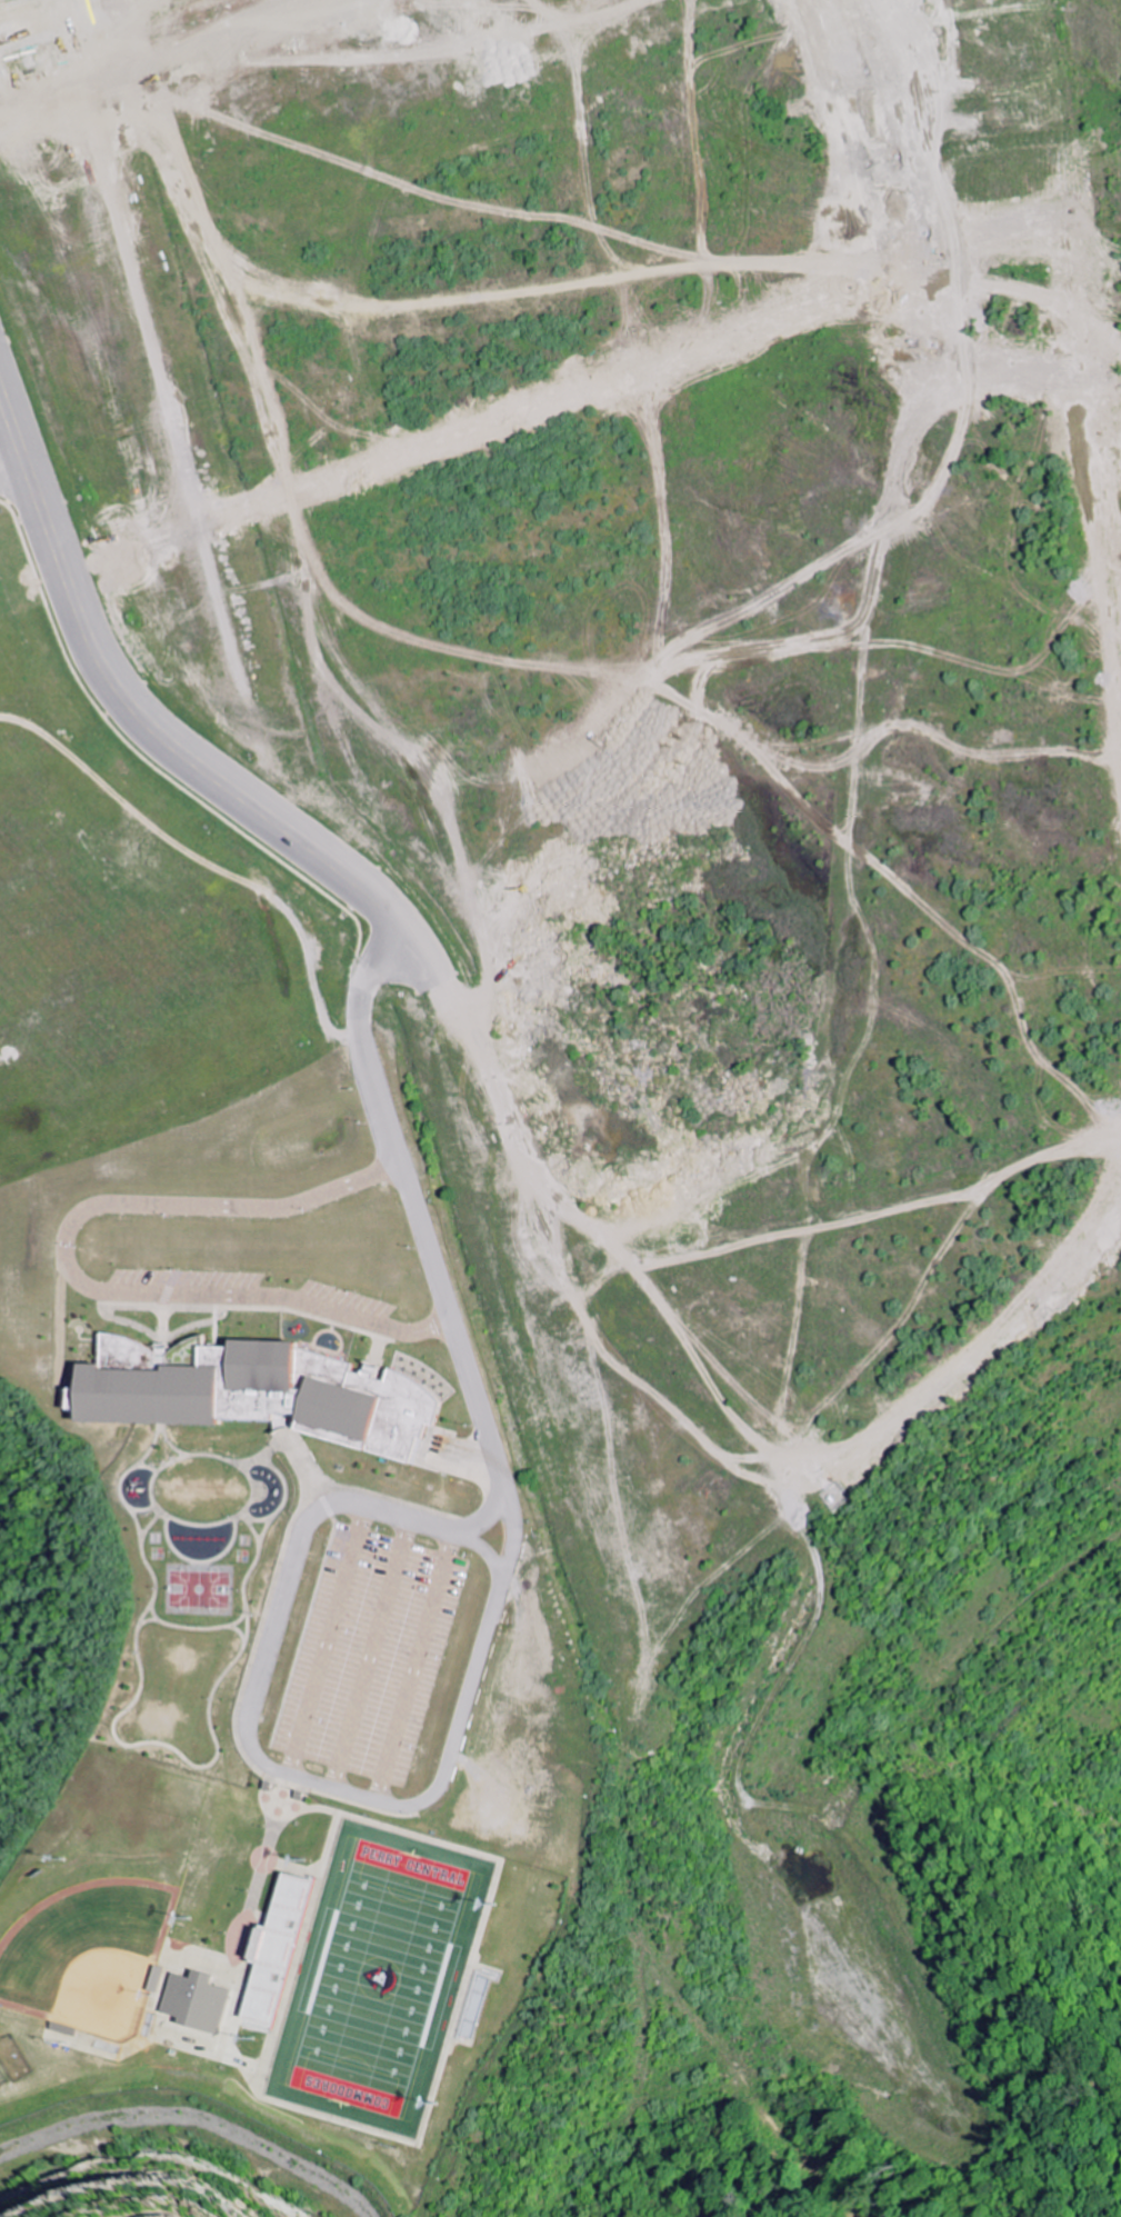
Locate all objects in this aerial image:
building: (3, 31)
road: (172, 747)
road: (412, 1206)
building: (200, 1381)
building: (379, 1407)
building: (283, 1953)
building: (203, 2001)

